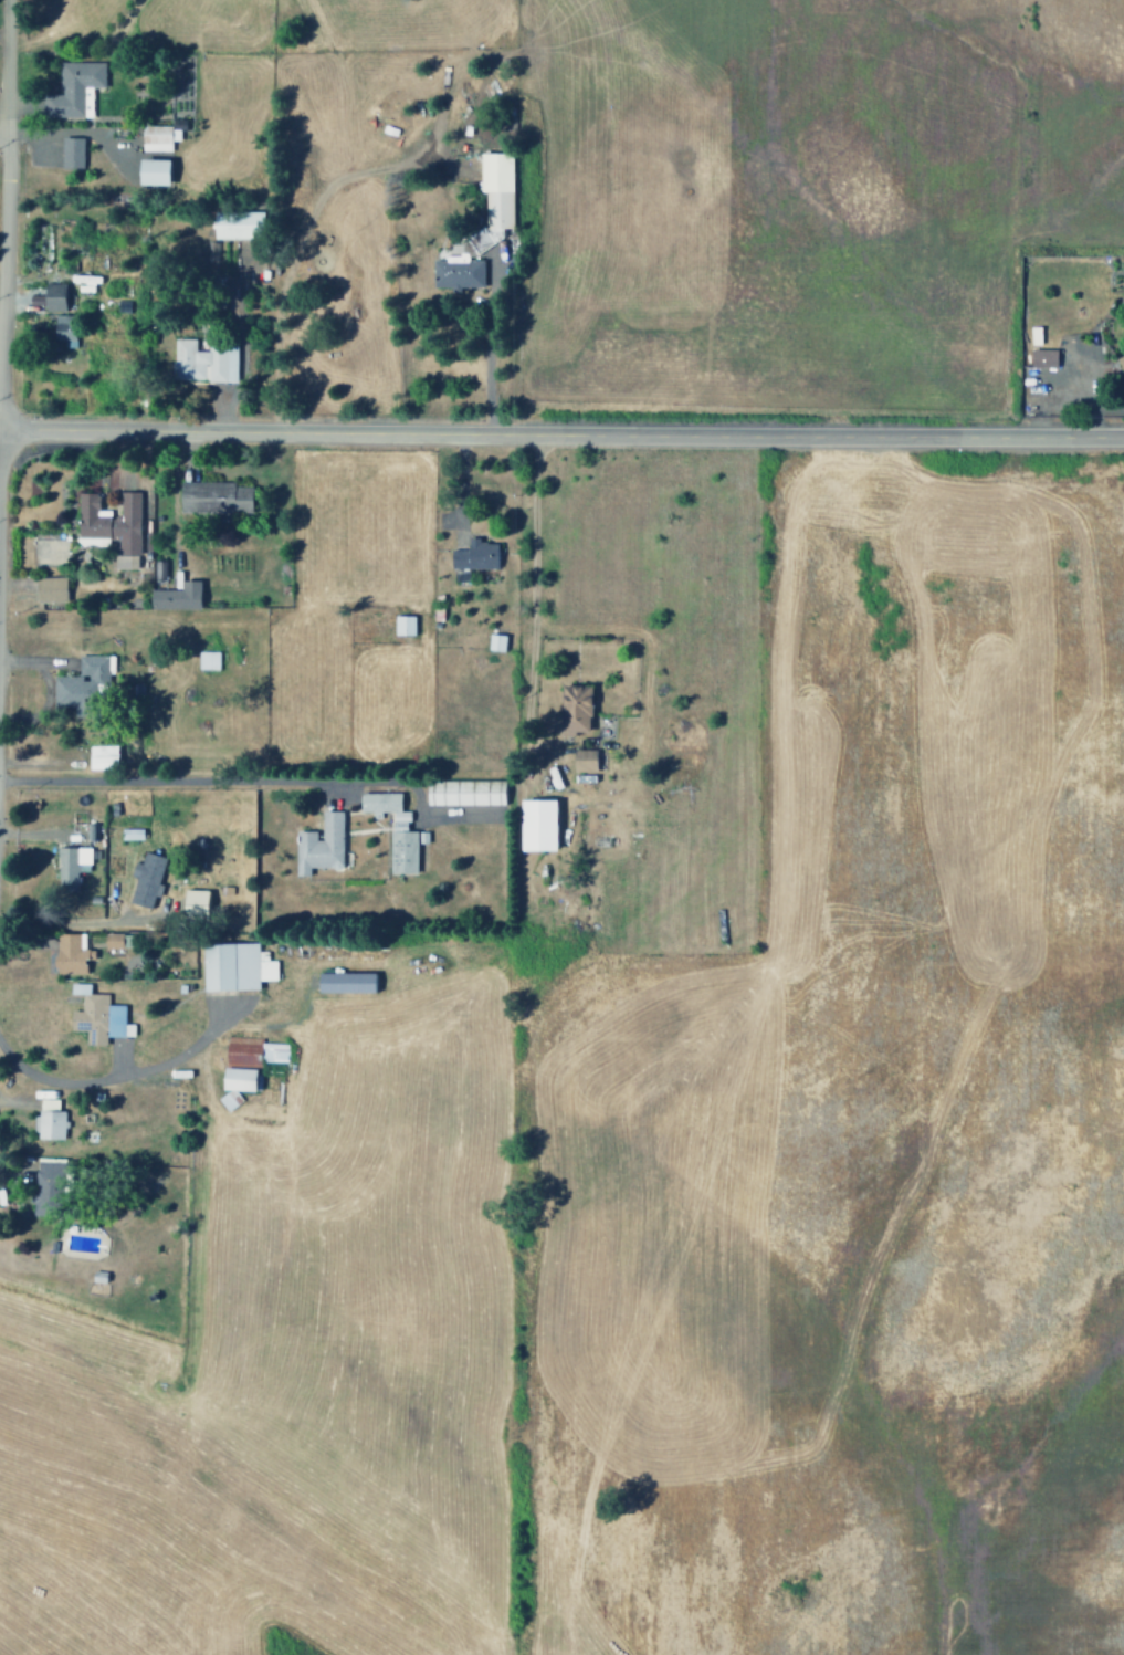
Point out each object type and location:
road: (6, 70)
building: (73, 90)
building: (158, 137)
road: (2, 139)
building: (70, 153)
building: (150, 171)
building: (495, 188)
building: (235, 224)
road: (6, 273)
building: (455, 274)
building: (84, 282)
building: (49, 297)
building: (62, 329)
building: (1041, 358)
building: (203, 362)
building: (1120, 362)
road: (561, 431)
building: (212, 496)
building: (109, 526)
building: (474, 555)
building: (49, 589)
building: (175, 597)
building: (401, 625)
building: (494, 642)
building: (206, 660)
building: (82, 685)
building: (572, 709)
building: (101, 757)
building: (582, 761)
building: (465, 793)
building: (535, 825)
building: (393, 830)
building: (129, 834)
building: (318, 845)
building: (144, 879)
building: (192, 904)
building: (115, 941)
building: (69, 953)
building: (233, 966)
building: (344, 983)
building: (95, 1017)
road: (132, 1076)
road: (21, 1077)
building: (239, 1079)
building: (228, 1100)
building: (48, 1120)
building: (46, 1187)
airport: (281, 1645)

